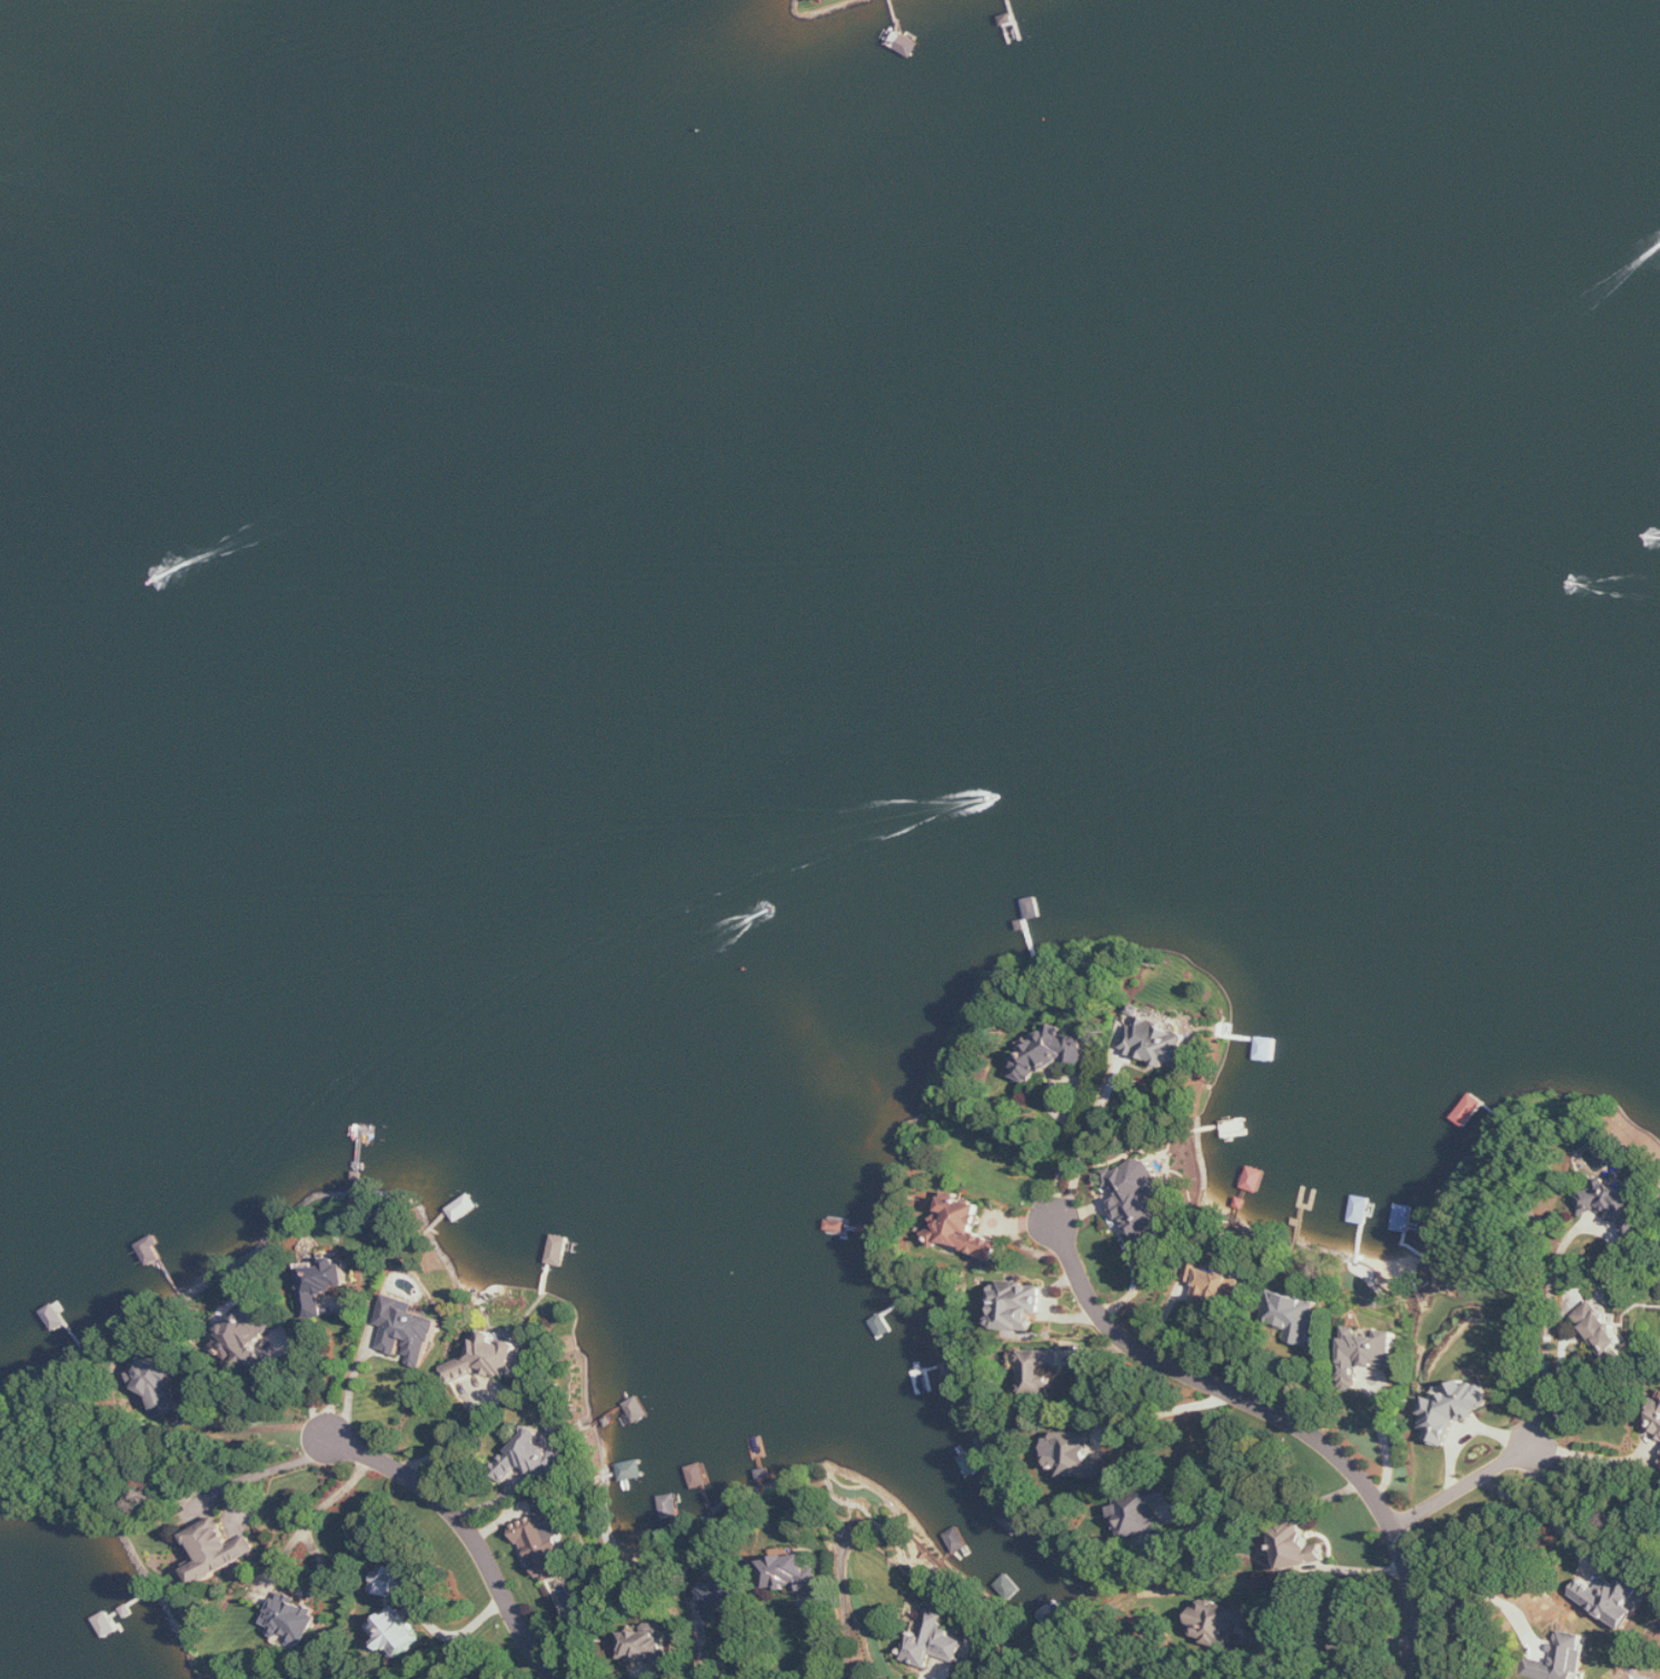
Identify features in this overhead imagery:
river: (854, 504)
building: (1159, 1041)
road: (1082, 1145)
building: (1139, 1199)
building: (1618, 1204)
building: (964, 1226)
building: (325, 1281)
building: (1221, 1284)
building: (1016, 1305)
building: (1293, 1315)
road: (1552, 1327)
building: (408, 1330)
building: (1602, 1331)
building: (248, 1337)
building: (1366, 1352)
building: (490, 1358)
building: (1040, 1371)
road: (337, 1377)
road: (352, 1381)
building: (162, 1383)
road: (319, 1385)
building: (1454, 1408)
road: (1169, 1410)
road: (1283, 1417)
building: (1656, 1421)
road: (256, 1431)
road: (460, 1441)
building: (537, 1454)
building: (1076, 1454)
road: (1591, 1456)
building: (1659, 1463)
building: (632, 1470)
road: (264, 1471)
road: (1594, 1472)
building: (699, 1474)
road: (1464, 1487)
road: (1584, 1488)
road: (338, 1497)
road: (1288, 1509)
road: (1540, 1510)
building: (1143, 1511)
road: (471, 1532)
building: (1298, 1546)
building: (547, 1548)
building: (219, 1549)
building: (793, 1573)
building: (387, 1579)
road: (1475, 1586)
building: (727, 1594)
building: (1612, 1598)
building: (702, 1610)
building: (295, 1618)
building: (1220, 1621)
building: (400, 1632)
building: (934, 1641)
road: (1341, 1642)
building: (650, 1648)
road: (818, 1650)
road: (707, 1653)
building: (1559, 1665)
road: (551, 1675)

